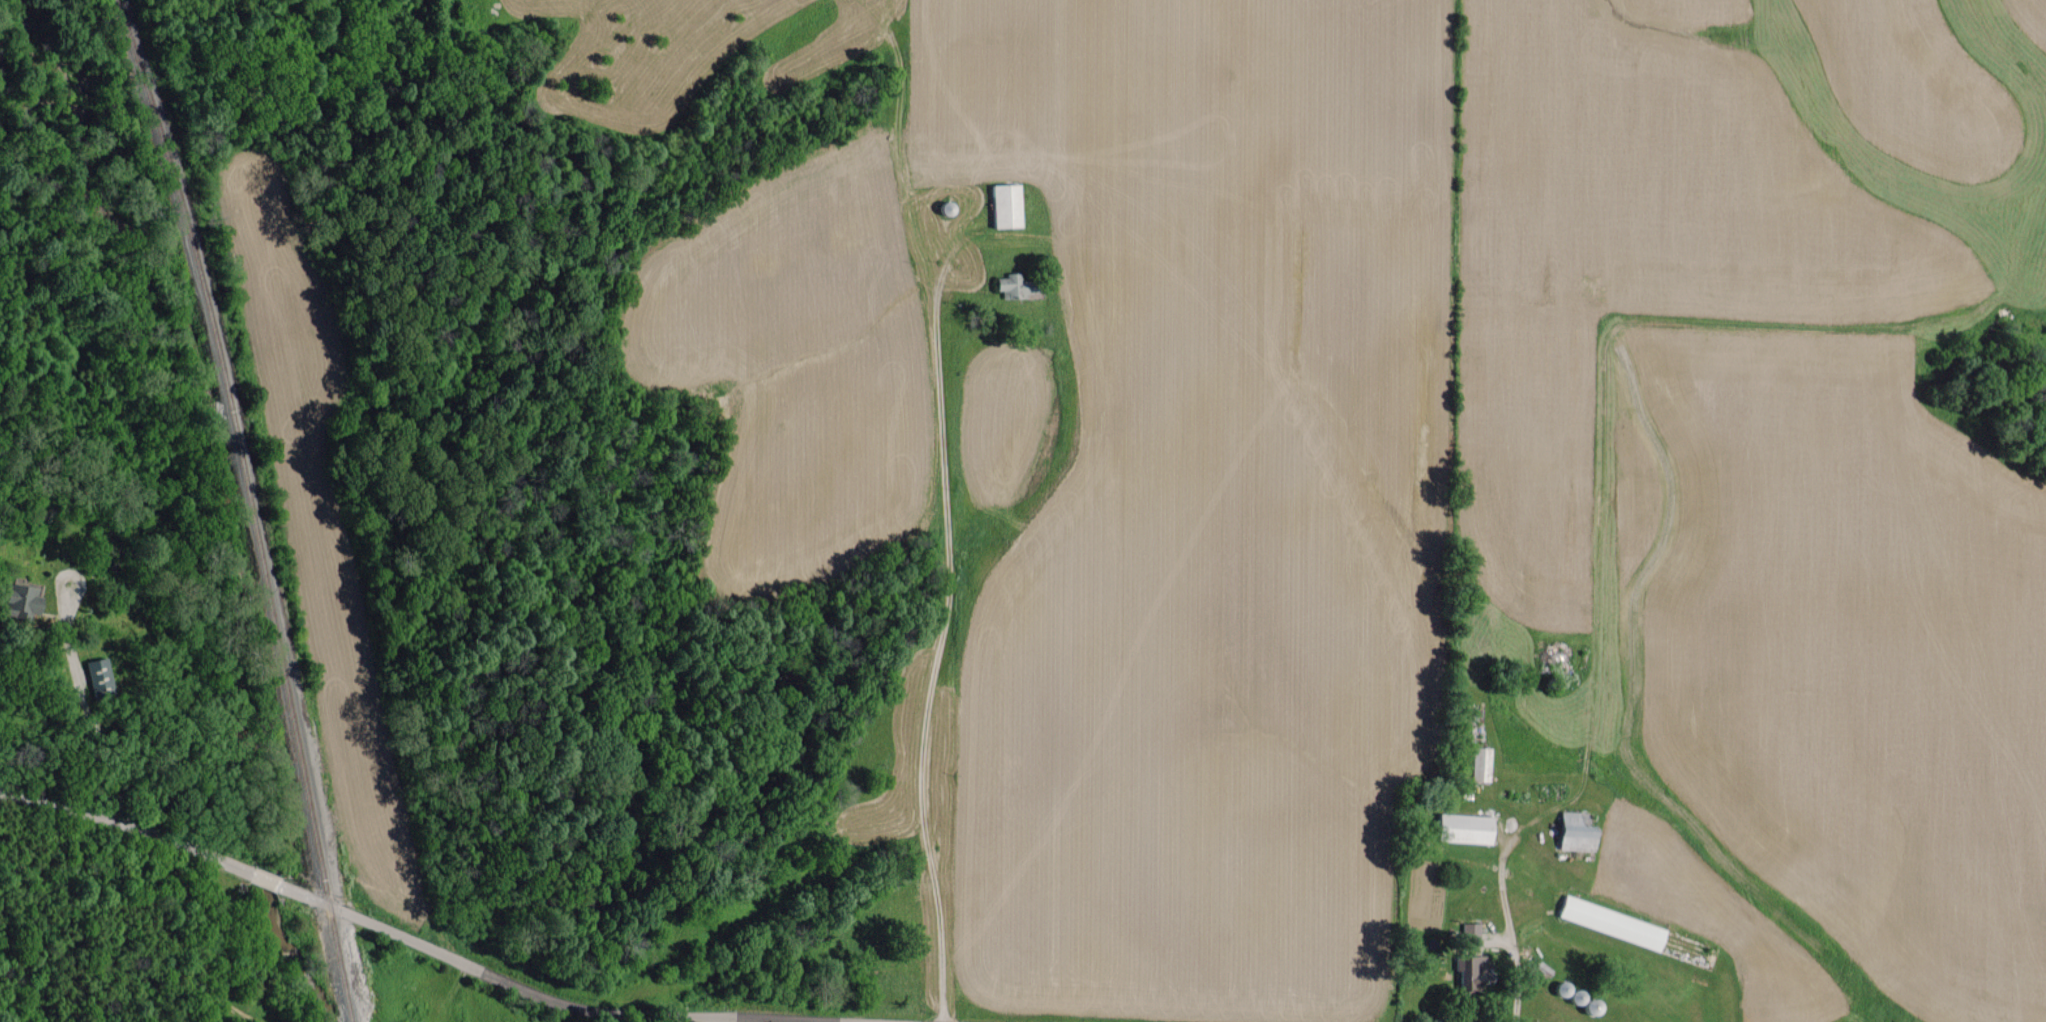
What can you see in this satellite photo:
building: (1003, 204)
building: (1007, 285)
railway: (240, 506)
building: (18, 599)
road: (951, 666)
building: (97, 671)
road: (79, 716)
building: (1479, 763)
building: (1460, 827)
building: (1571, 831)
road: (392, 933)

